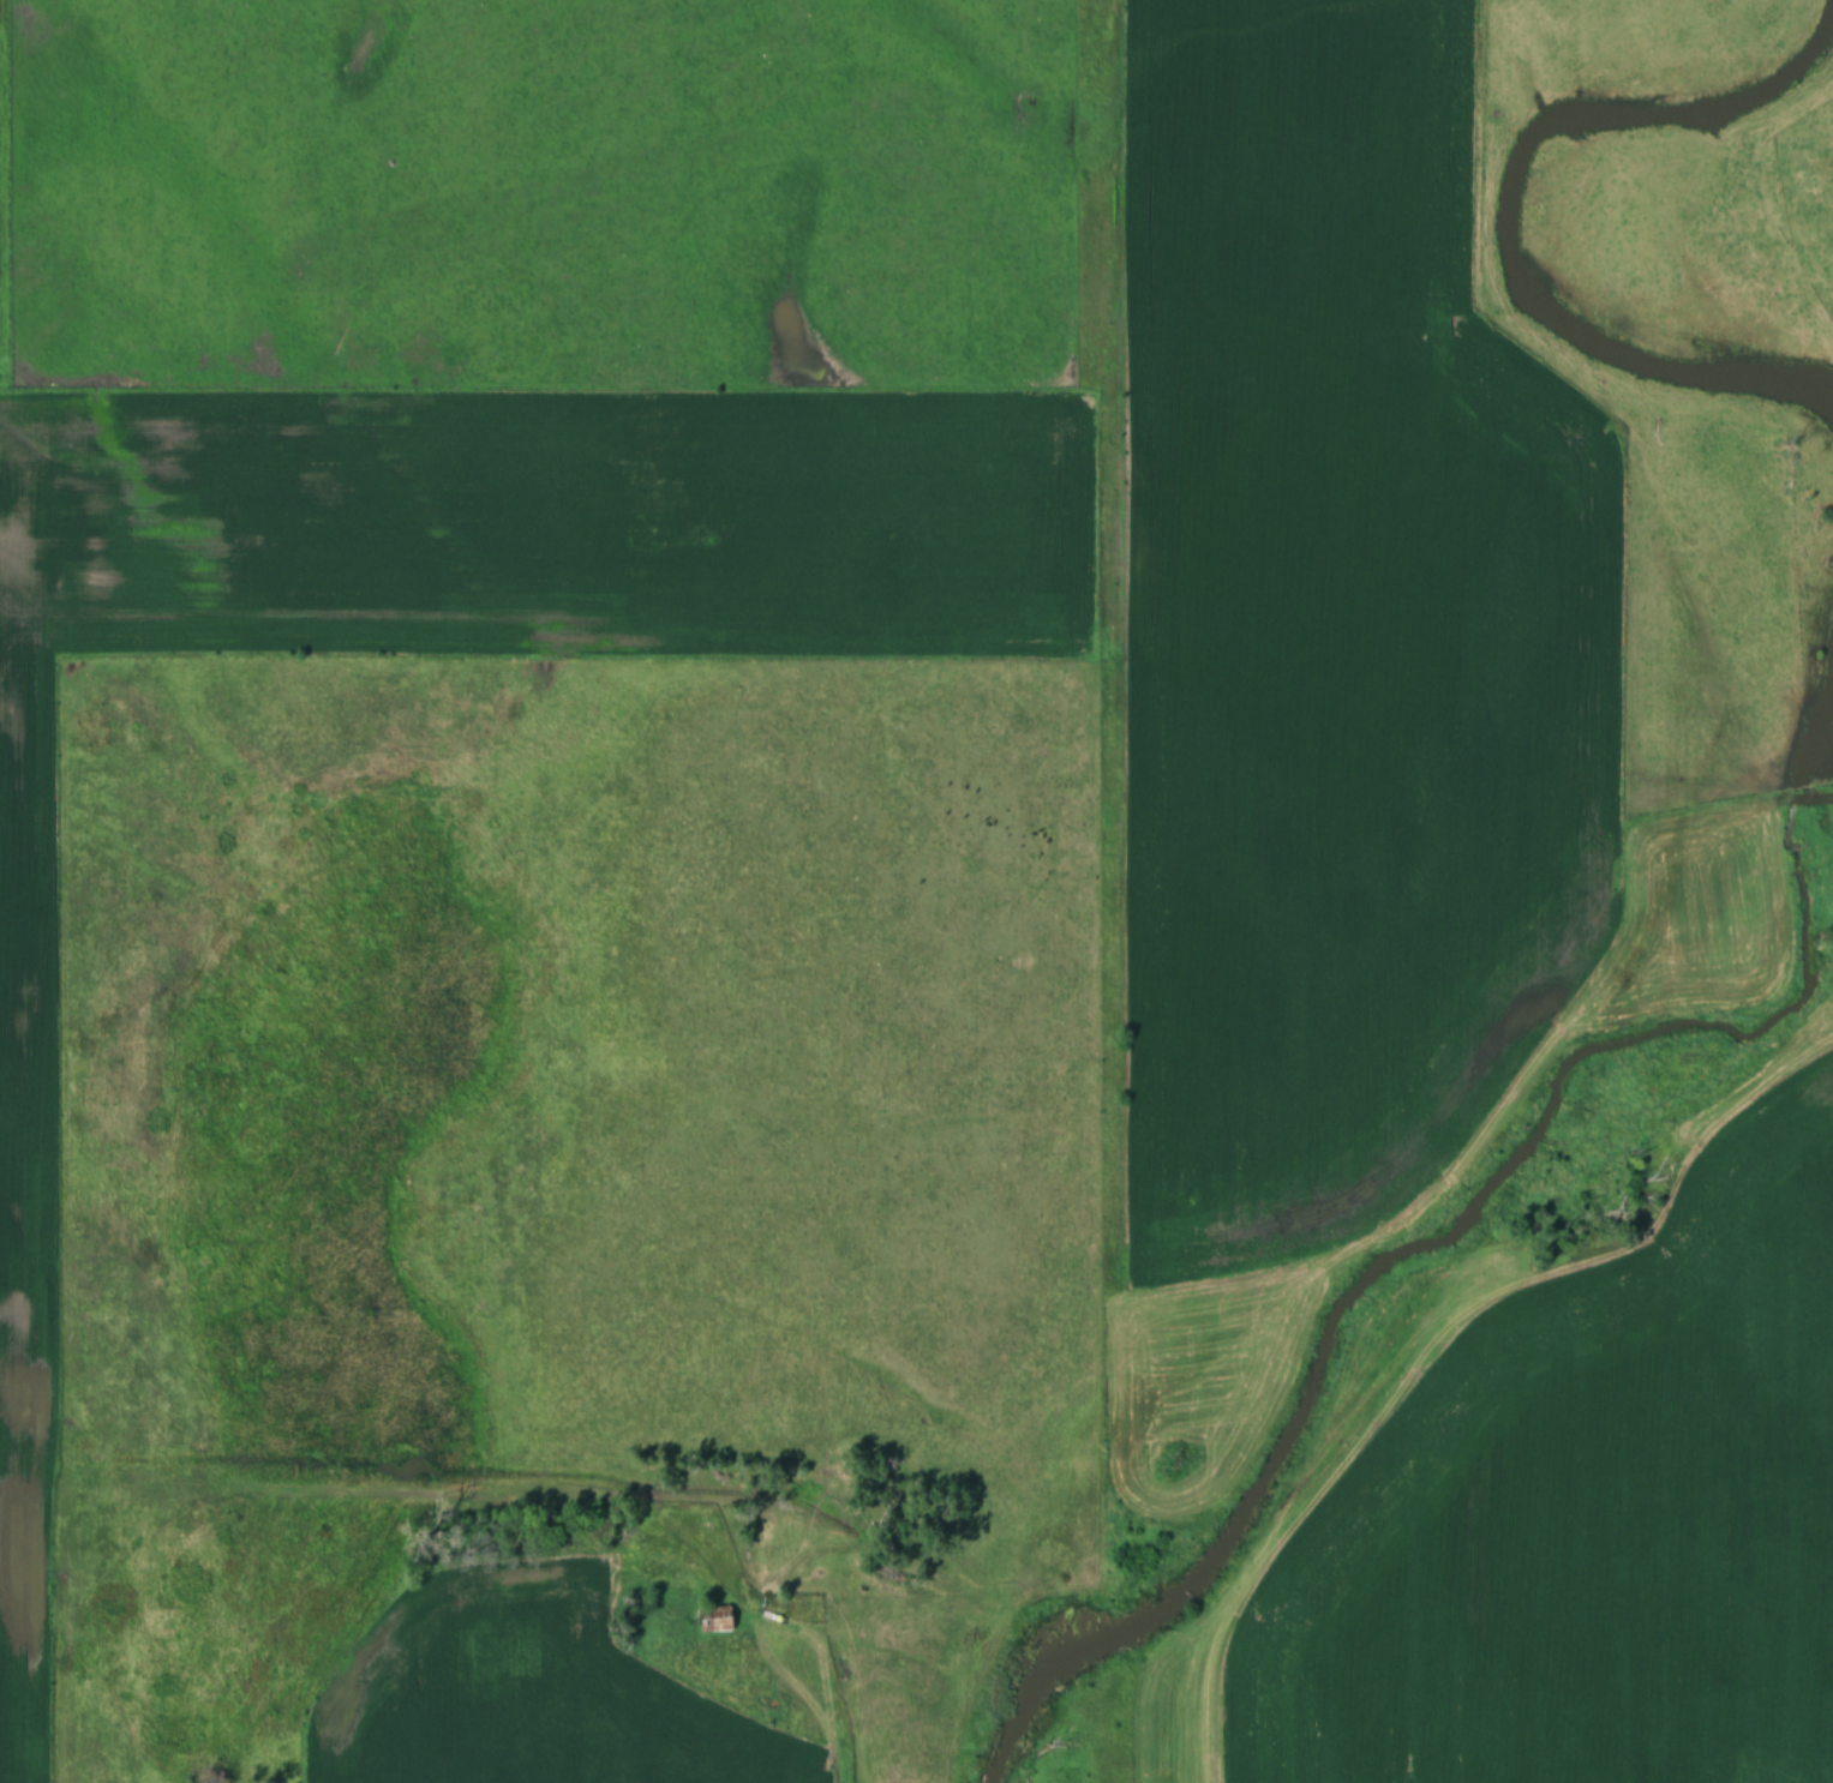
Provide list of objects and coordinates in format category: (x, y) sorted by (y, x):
building: (711, 1619)
road: (773, 1669)
road: (832, 1752)

